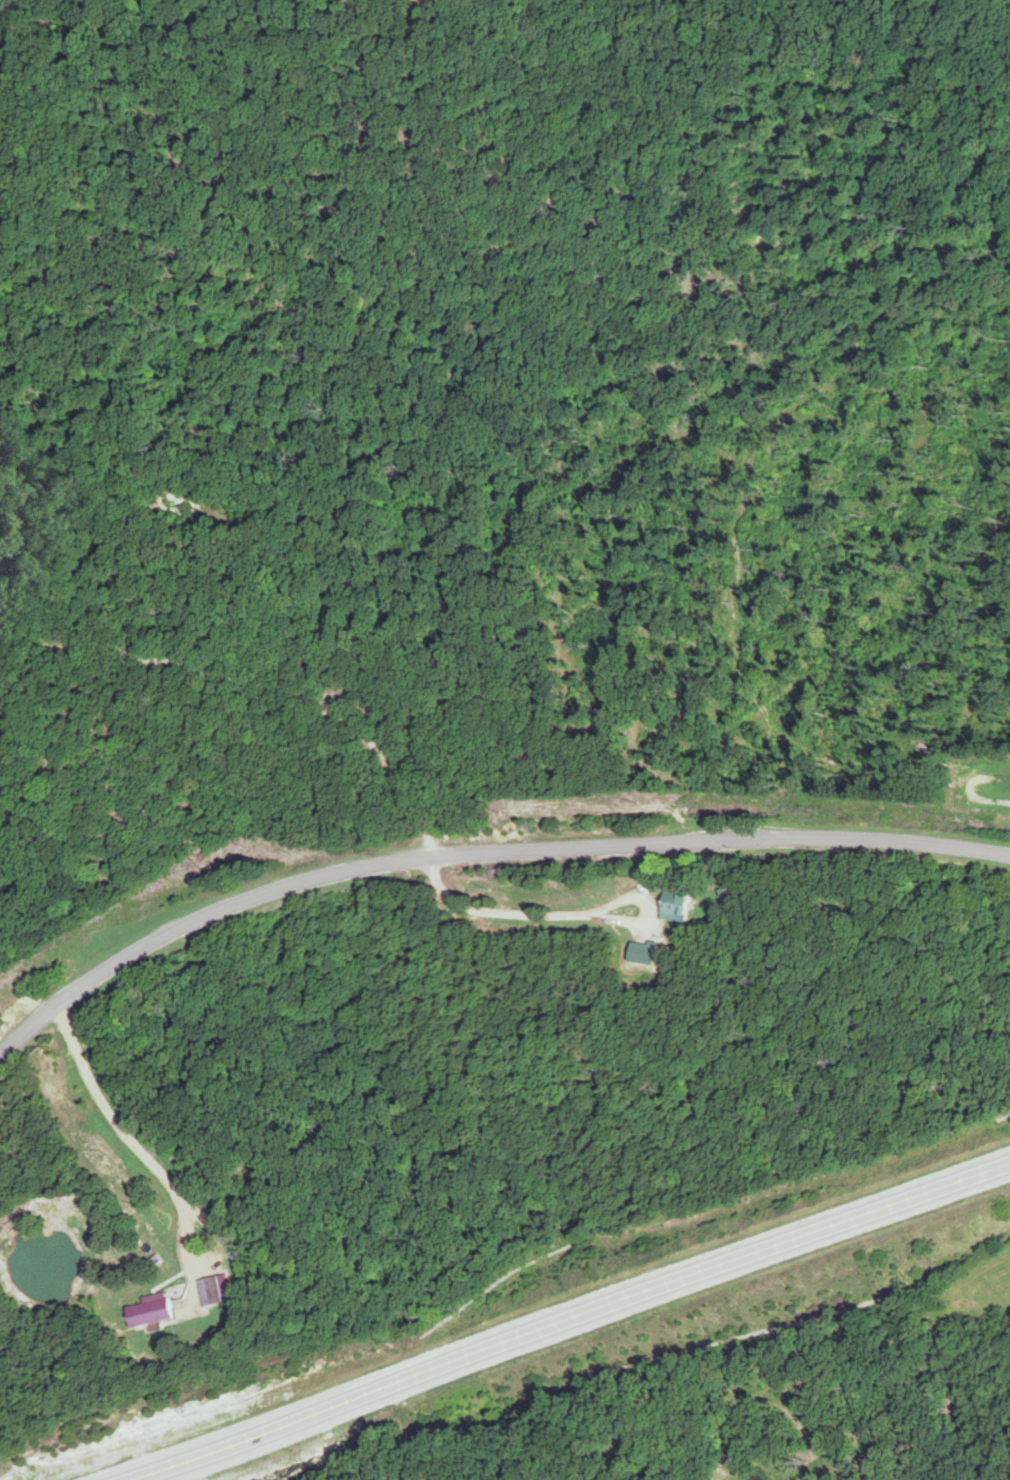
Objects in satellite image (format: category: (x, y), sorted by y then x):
road: (169, 564)
road: (257, 682)
road: (477, 855)
road: (621, 897)
building: (667, 907)
road: (496, 909)
road: (100, 1111)
road: (213, 1228)
building: (206, 1291)
building: (143, 1311)
road: (576, 1315)

